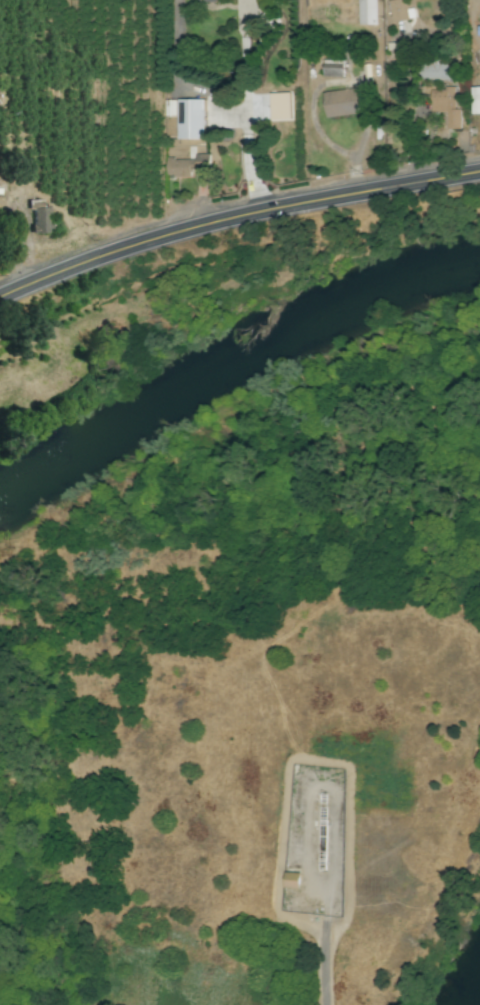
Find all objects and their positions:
building: (210, 0)
building: (398, 10)
building: (367, 11)
building: (332, 67)
building: (435, 71)
road: (317, 88)
building: (475, 99)
building: (343, 101)
building: (280, 105)
building: (444, 106)
building: (170, 108)
building: (191, 119)
building: (186, 164)
road: (247, 166)
building: (39, 219)
road: (235, 220)
river: (233, 344)
crop: (219, 561)

